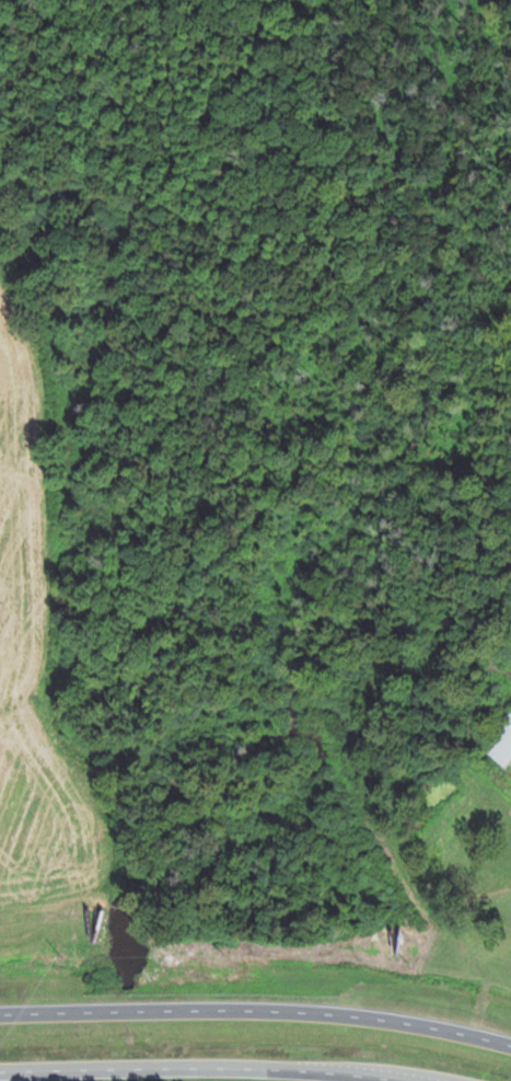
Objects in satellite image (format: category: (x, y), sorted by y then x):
building: (500, 743)
road: (256, 1009)
road: (205, 1065)

